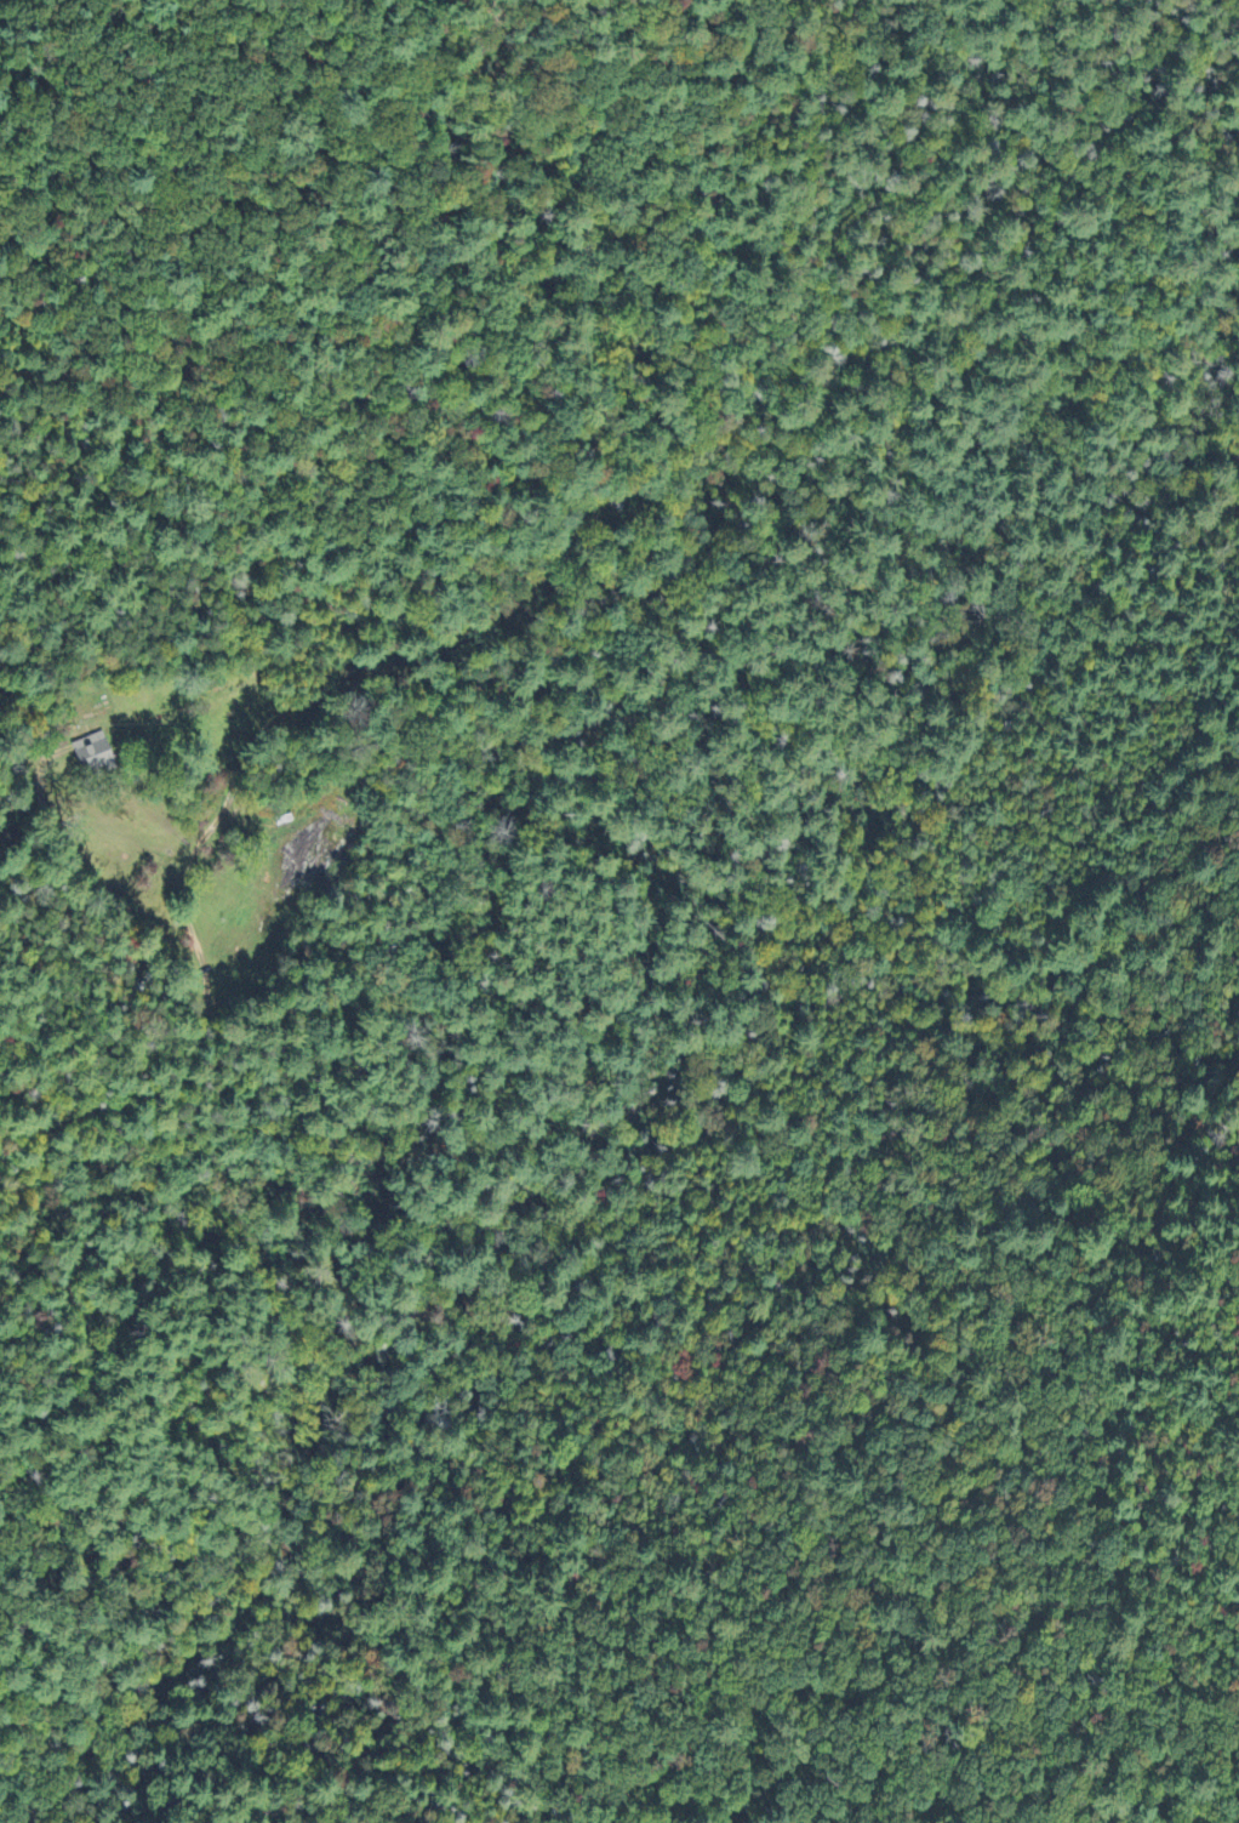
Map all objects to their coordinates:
building: (96, 752)
road: (81, 895)

